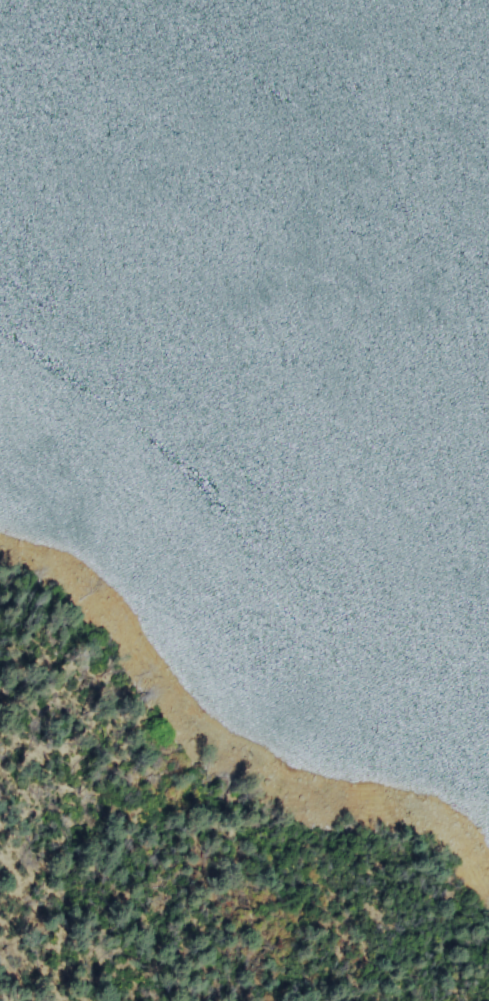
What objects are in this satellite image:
building: (219, 258)
river: (249, 267)

